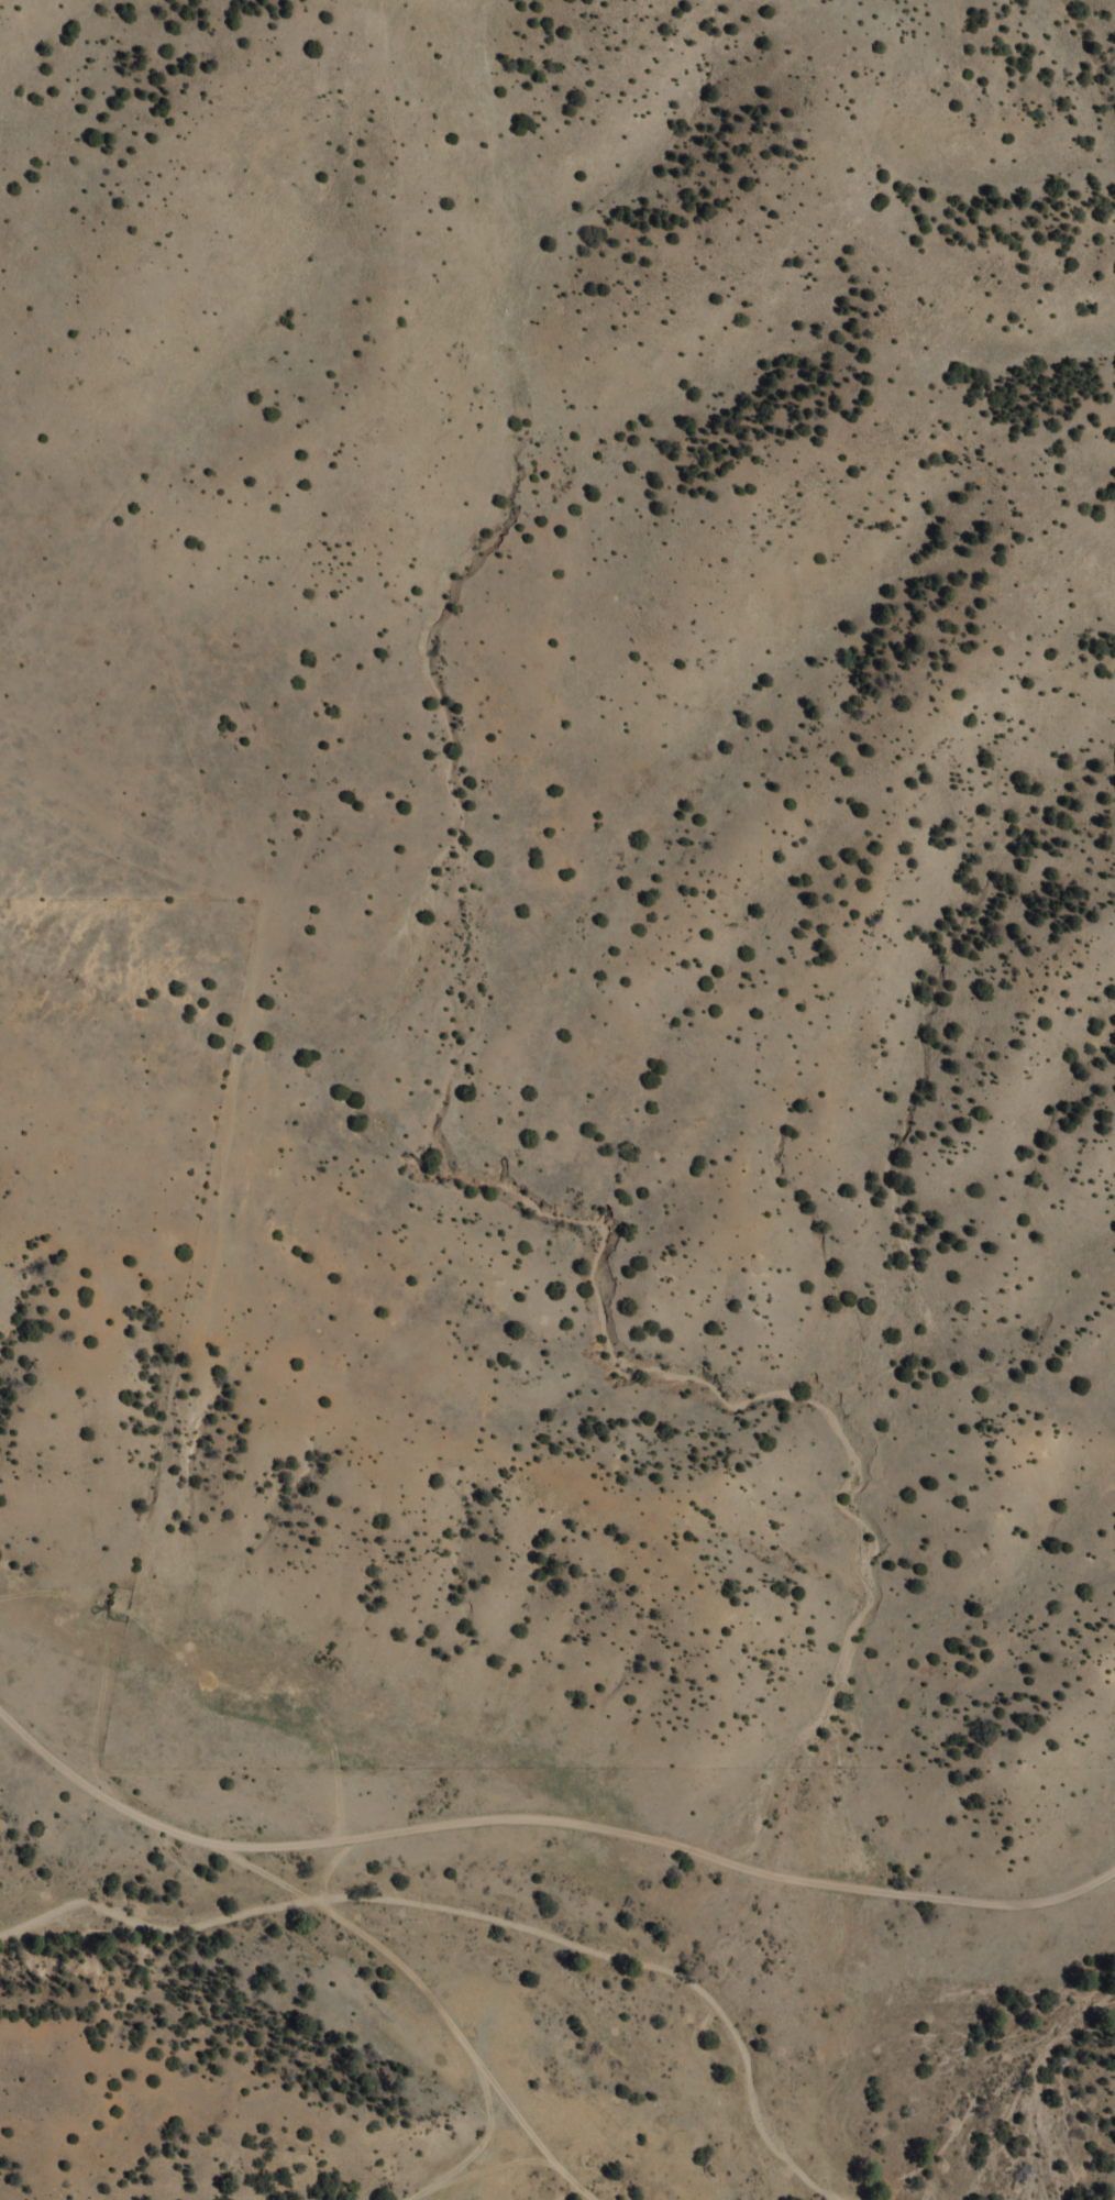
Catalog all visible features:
road: (249, 1098)
building: (56, 1631)
road: (544, 1821)
road: (424, 1997)
road: (486, 2123)
road: (481, 2167)

